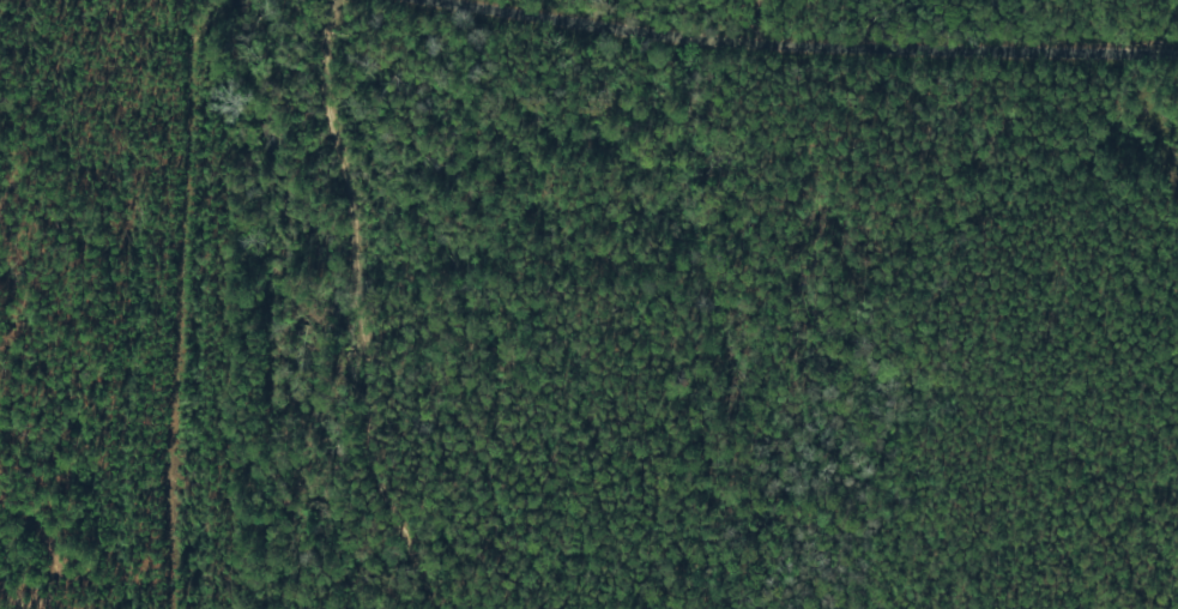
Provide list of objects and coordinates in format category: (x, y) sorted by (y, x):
road: (936, 14)

